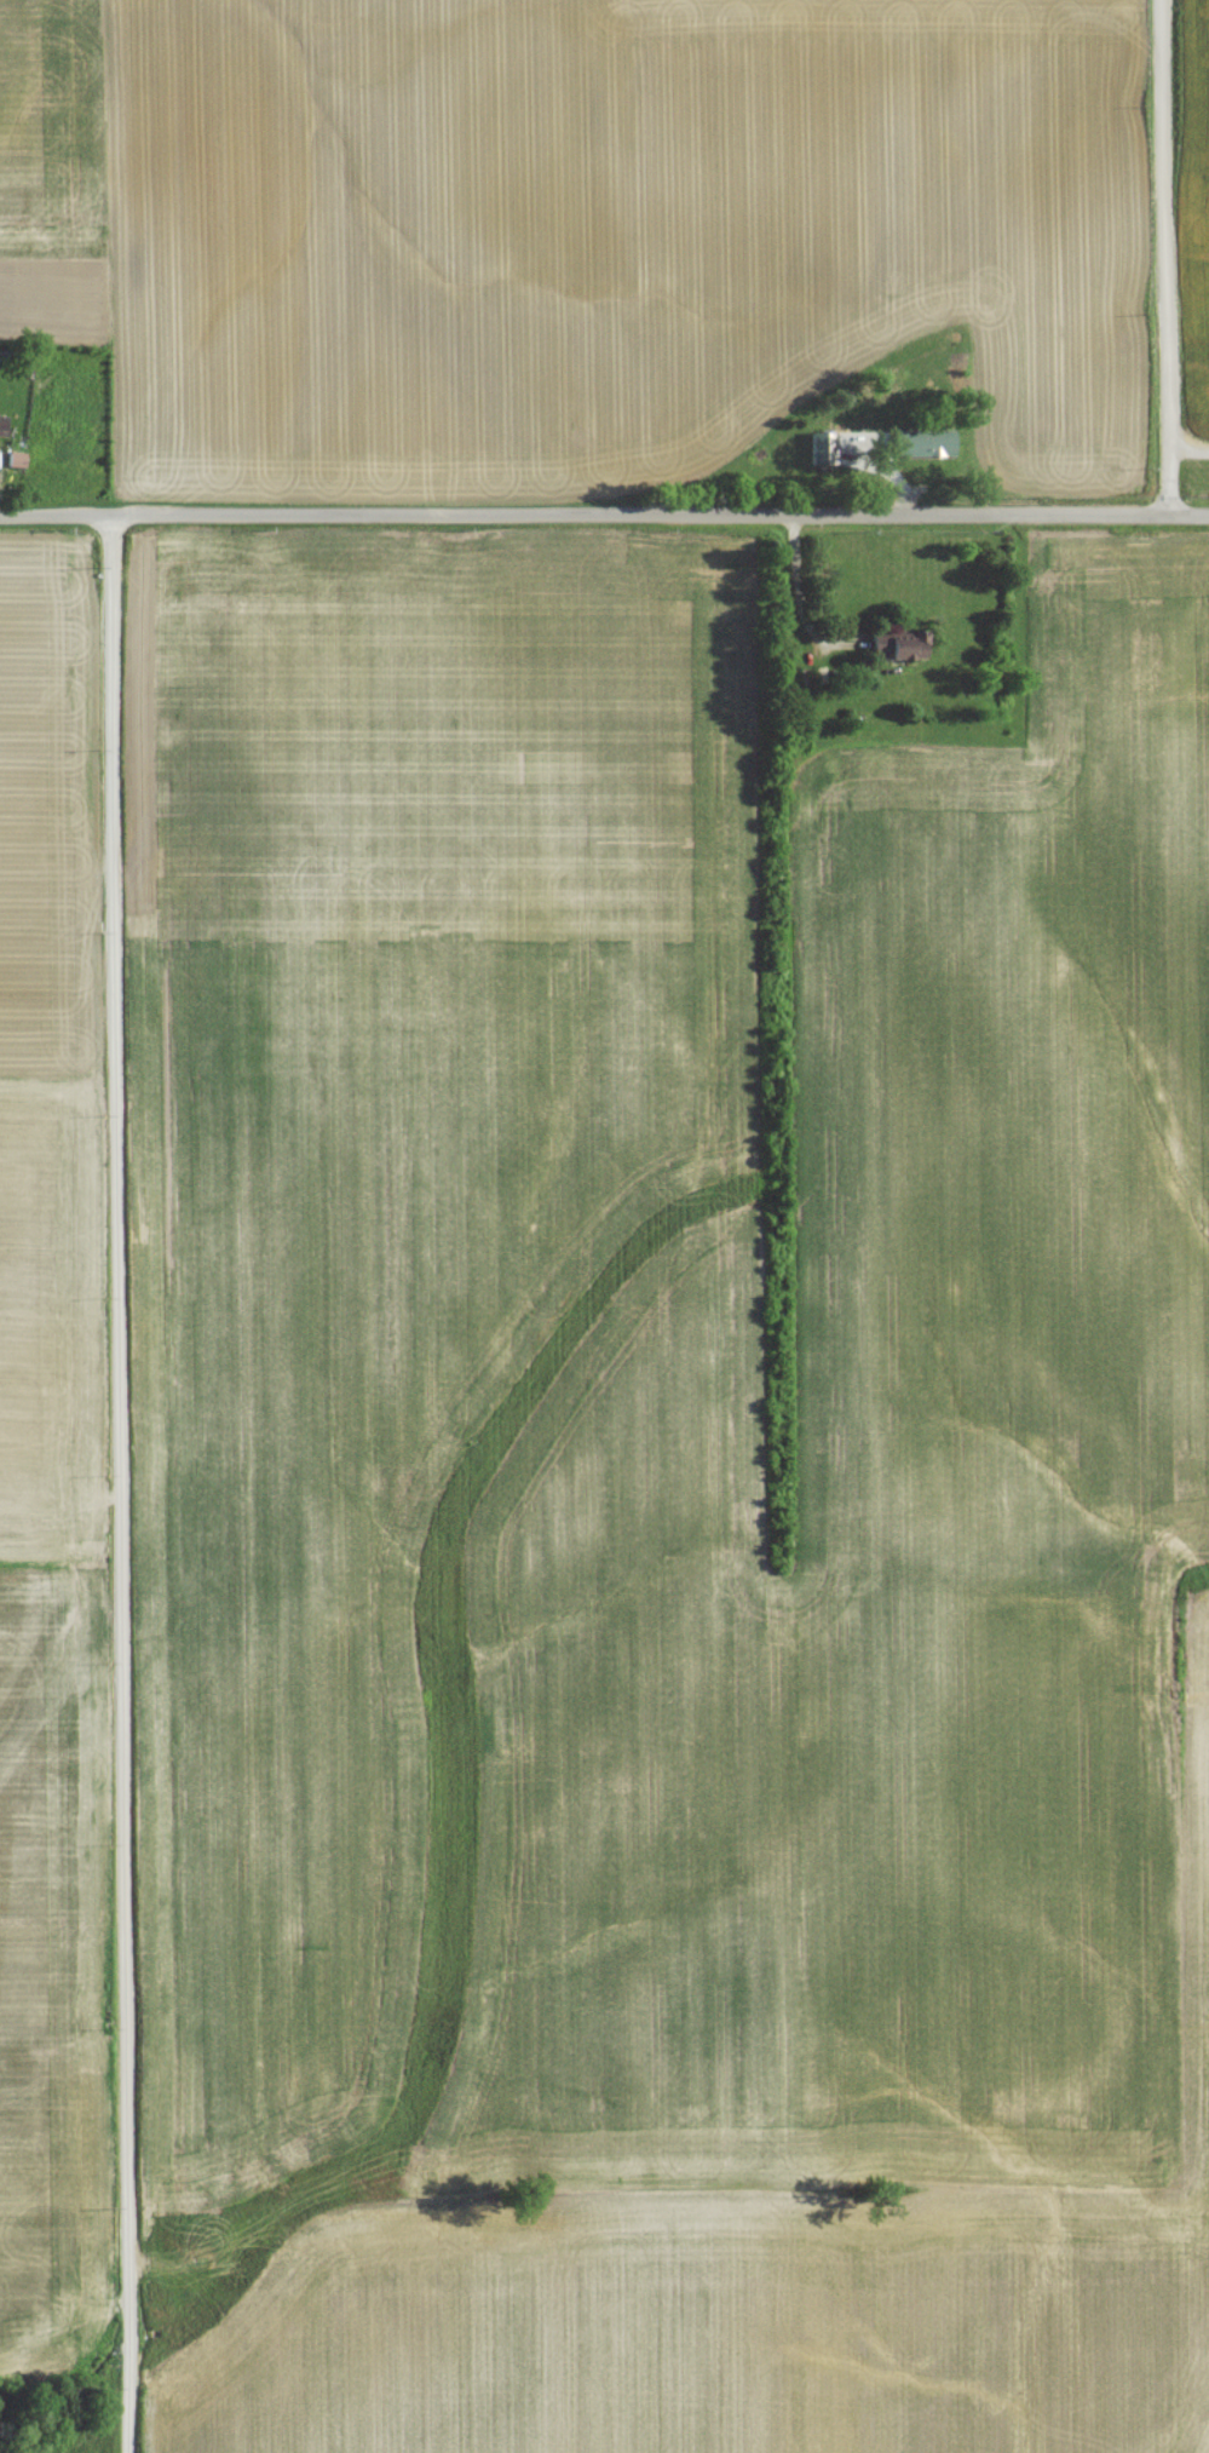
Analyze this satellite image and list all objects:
road: (1162, 258)
building: (4, 432)
building: (846, 461)
building: (16, 469)
road: (604, 519)
road: (793, 592)
building: (900, 653)
road: (117, 1487)

